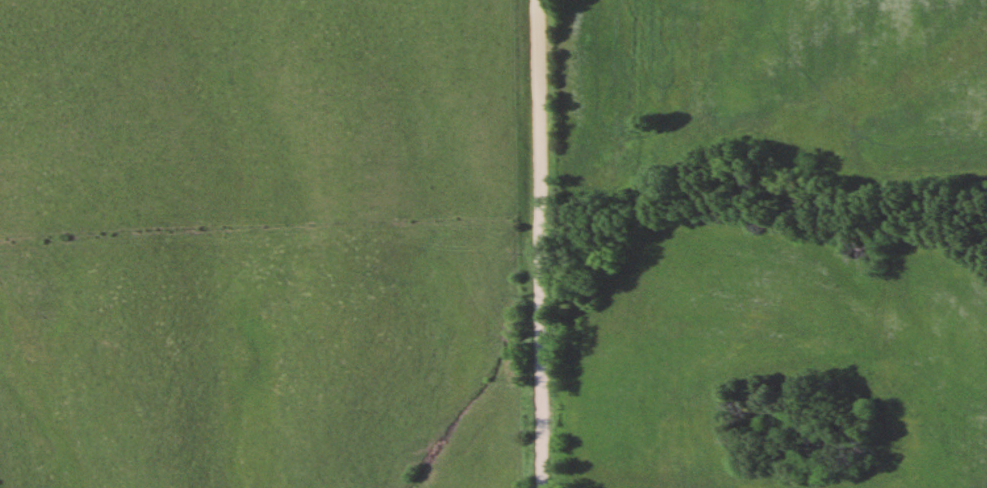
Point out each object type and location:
road: (538, 244)

